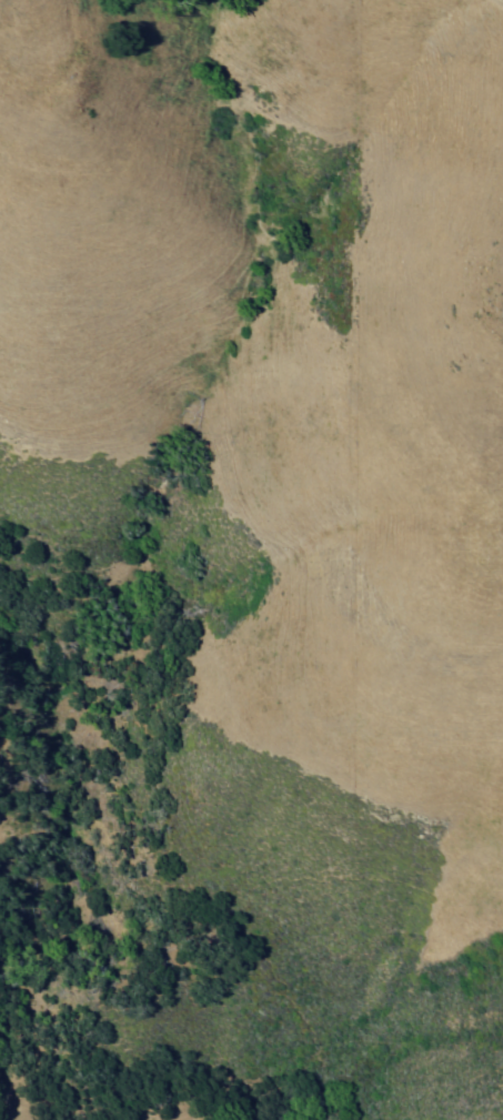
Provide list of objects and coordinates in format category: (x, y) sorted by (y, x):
road: (51, 58)
road: (4, 729)

